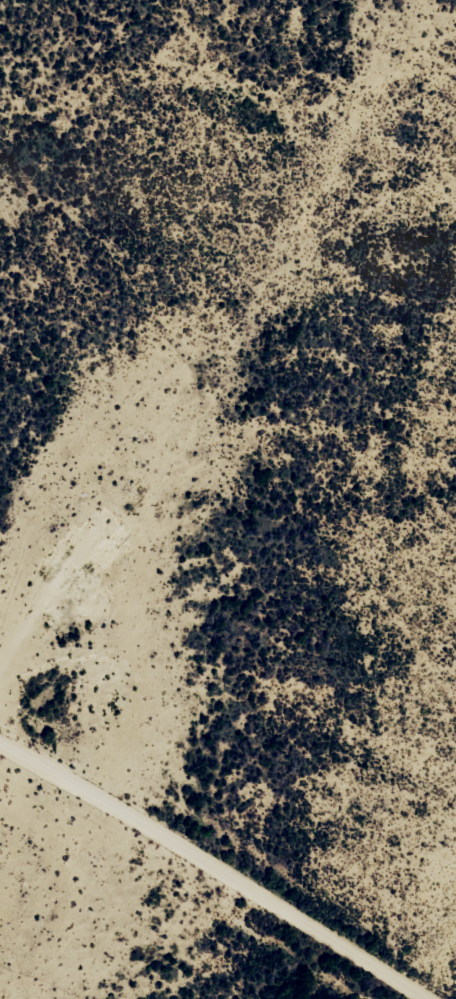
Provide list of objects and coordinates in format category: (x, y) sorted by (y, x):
road: (227, 861)

